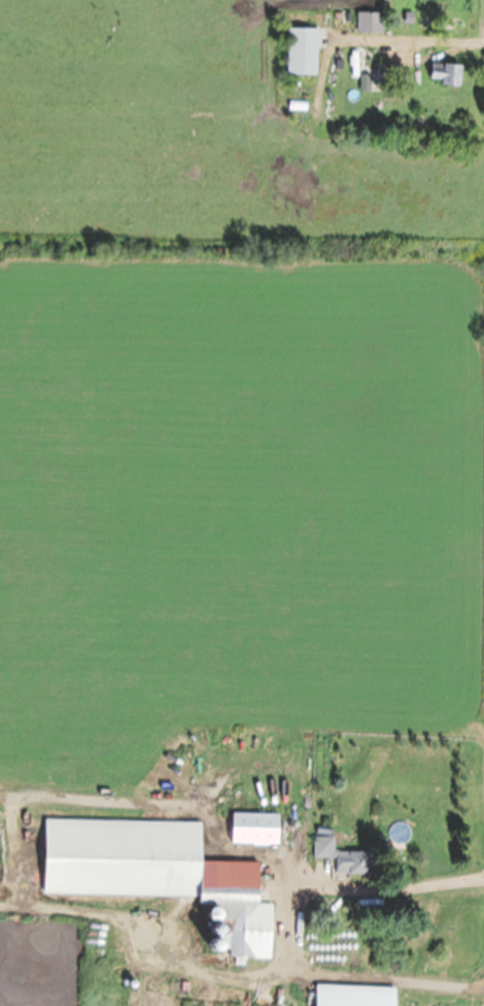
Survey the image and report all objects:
building: (302, 52)
building: (445, 74)
building: (255, 828)
building: (344, 856)
building: (154, 870)
building: (354, 996)

